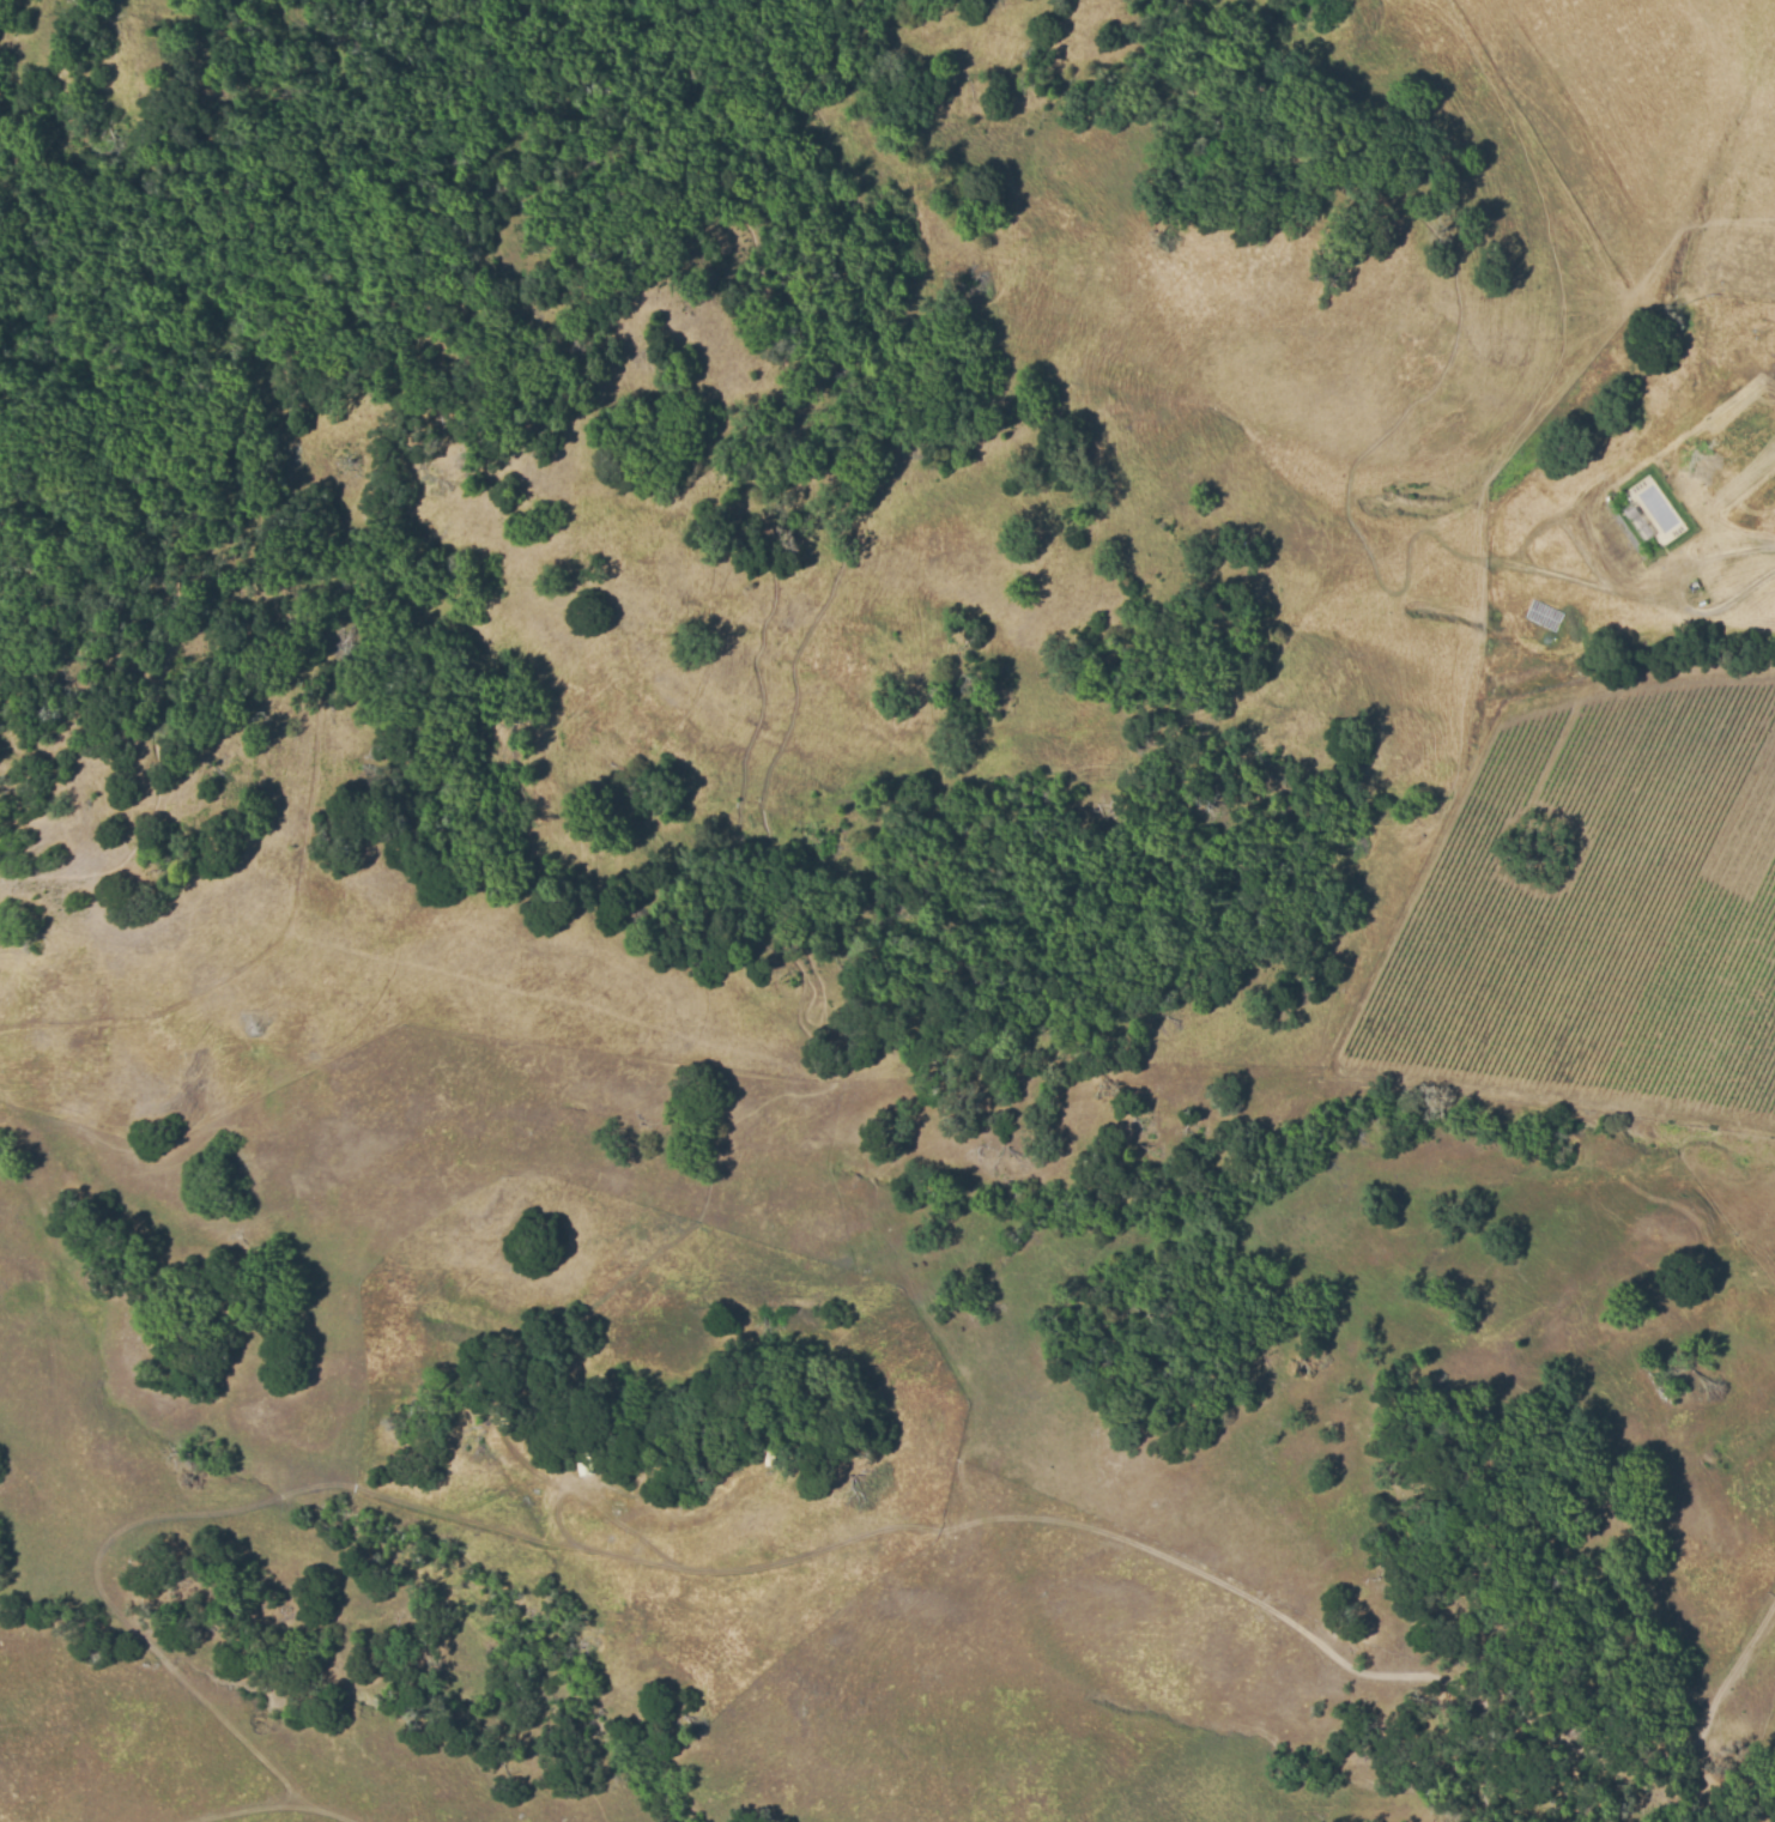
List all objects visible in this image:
road: (1676, 593)

